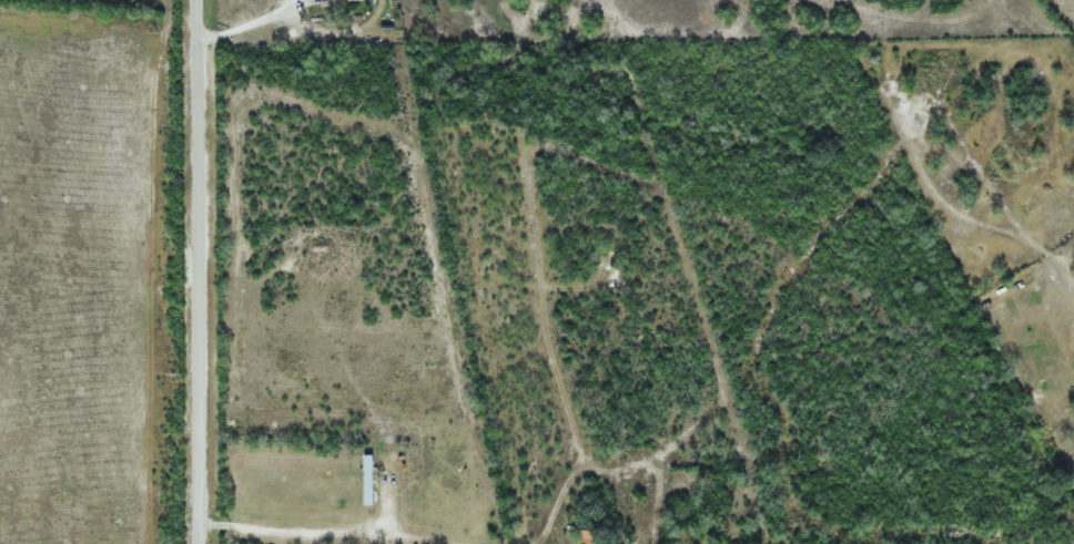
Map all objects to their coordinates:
road: (176, 277)
power tower: (174, 376)
building: (364, 480)

